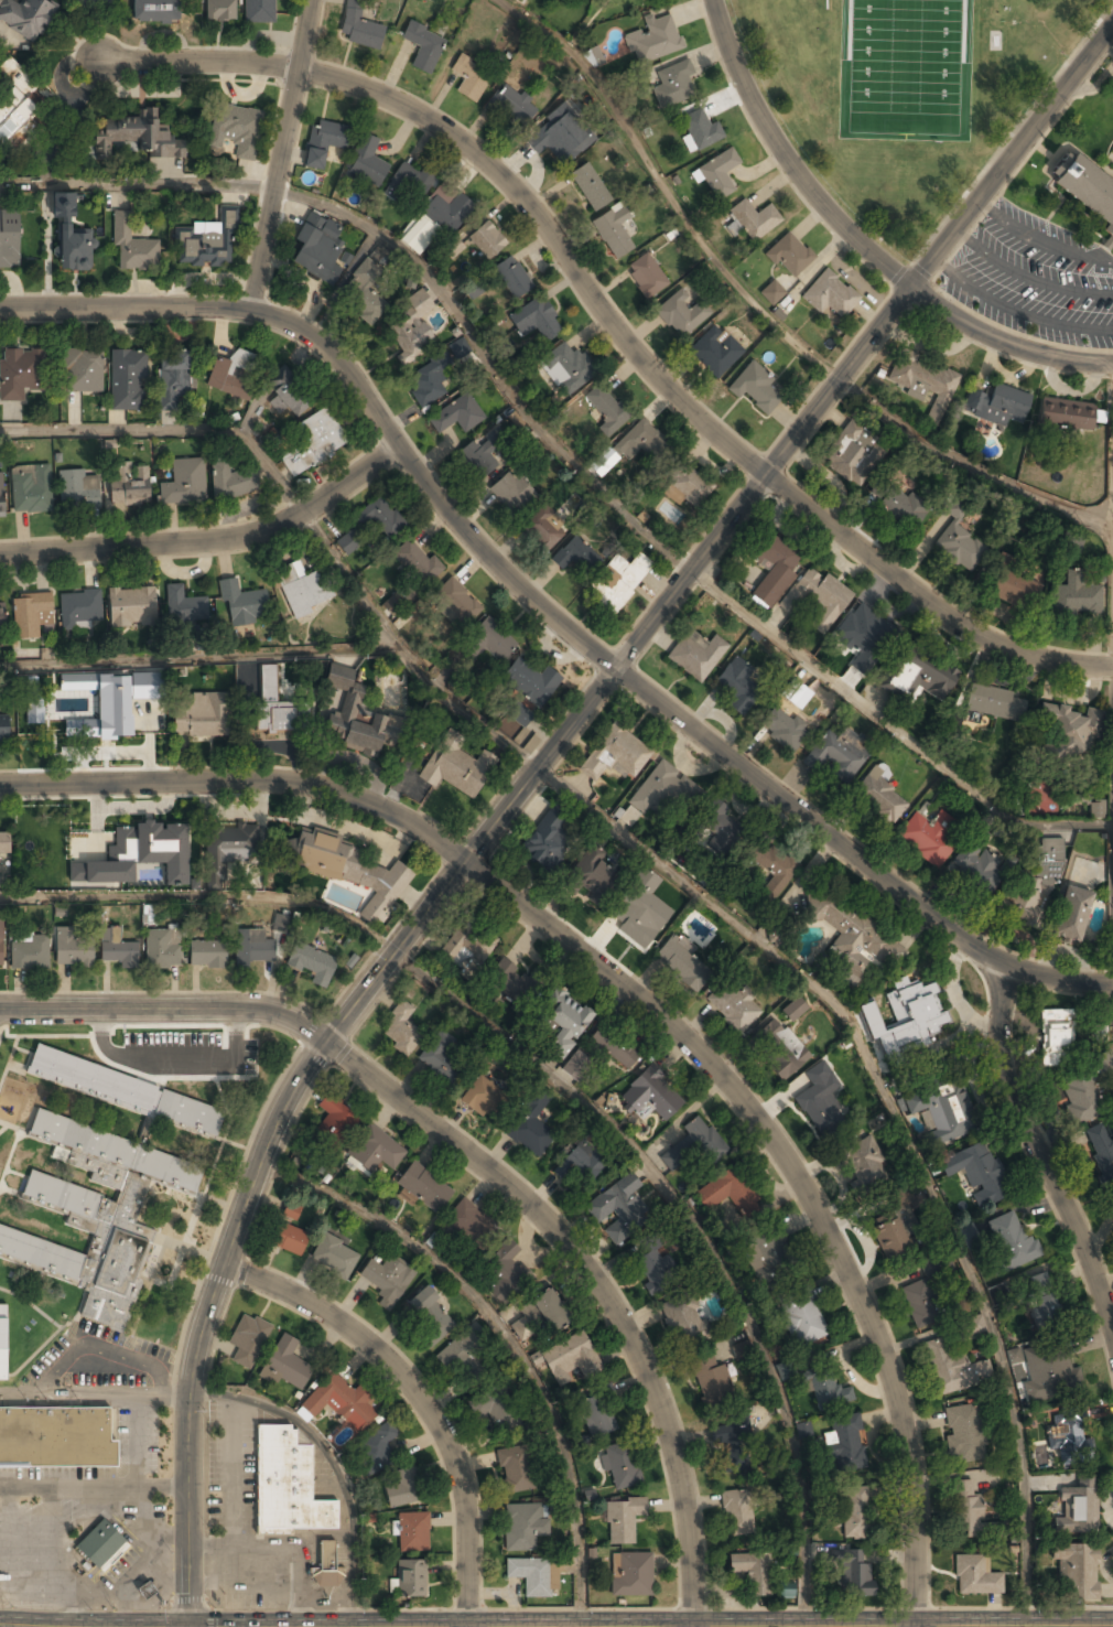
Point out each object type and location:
building: (87, 1)
building: (155, 11)
building: (219, 11)
building: (259, 11)
building: (28, 17)
building: (359, 26)
building: (653, 41)
building: (424, 45)
building: (594, 56)
park: (903, 68)
building: (471, 77)
building: (673, 85)
building: (514, 106)
building: (17, 112)
building: (236, 129)
building: (700, 130)
building: (140, 136)
building: (559, 137)
building: (324, 141)
road: (282, 154)
road: (789, 160)
building: (366, 162)
road: (491, 168)
building: (718, 173)
building: (410, 183)
road: (138, 185)
building: (590, 187)
building: (1087, 191)
building: (449, 213)
building: (754, 219)
building: (614, 233)
building: (9, 239)
building: (487, 240)
building: (453, 247)
building: (132, 248)
building: (202, 249)
building: (315, 249)
building: (75, 250)
building: (790, 255)
building: (647, 276)
building: (512, 277)
parking lot: (1036, 277)
road: (918, 280)
building: (363, 292)
building: (771, 292)
building: (830, 295)
road: (764, 312)
building: (678, 316)
building: (536, 320)
road: (281, 321)
building: (406, 334)
road: (1005, 344)
building: (712, 355)
road: (488, 367)
building: (566, 369)
building: (82, 371)
building: (233, 374)
building: (920, 377)
building: (17, 380)
building: (127, 381)
building: (173, 381)
building: (428, 385)
building: (756, 388)
building: (287, 395)
building: (997, 405)
building: (606, 411)
building: (1066, 414)
building: (447, 418)
road: (171, 429)
building: (316, 439)
building: (644, 444)
building: (849, 452)
building: (477, 460)
building: (603, 461)
building: (233, 481)
building: (128, 484)
building: (182, 484)
building: (689, 485)
building: (30, 487)
building: (75, 493)
building: (510, 493)
building: (1, 496)
building: (900, 504)
building: (381, 515)
road: (1112, 515)
building: (542, 528)
building: (350, 540)
building: (1069, 540)
road: (212, 541)
building: (959, 548)
building: (576, 557)
building: (417, 562)
building: (774, 570)
building: (1013, 580)
building: (617, 582)
building: (299, 590)
road: (928, 595)
building: (1076, 597)
building: (817, 600)
building: (456, 603)
building: (242, 605)
building: (132, 606)
building: (184, 606)
building: (80, 610)
building: (31, 616)
building: (2, 621)
building: (867, 629)
building: (488, 642)
road: (196, 655)
road: (404, 655)
building: (696, 655)
building: (920, 676)
building: (531, 682)
building: (739, 686)
building: (111, 700)
building: (992, 702)
building: (34, 704)
building: (517, 711)
building: (352, 714)
building: (201, 715)
building: (281, 719)
building: (64, 722)
building: (781, 728)
road: (890, 728)
building: (4, 729)
building: (1068, 732)
road: (723, 753)
building: (615, 754)
building: (836, 755)
building: (460, 769)
road: (244, 782)
building: (656, 790)
building: (879, 794)
building: (1098, 808)
building: (629, 816)
building: (715, 827)
building: (927, 837)
building: (545, 840)
building: (4, 843)
building: (231, 844)
building: (51, 845)
building: (139, 854)
building: (977, 868)
building: (772, 869)
building: (353, 871)
building: (591, 879)
building: (1035, 881)
road: (205, 895)
building: (1072, 915)
building: (636, 919)
building: (280, 923)
building: (852, 938)
building: (1, 945)
building: (253, 948)
building: (468, 948)
building: (117, 949)
building: (161, 949)
building: (74, 952)
building: (29, 953)
building: (207, 955)
building: (684, 962)
building: (312, 965)
road: (1053, 978)
building: (512, 983)
building: (733, 1005)
building: (795, 1008)
road: (168, 1009)
road: (1098, 1015)
building: (564, 1020)
building: (905, 1020)
road: (336, 1030)
building: (401, 1030)
building: (1056, 1034)
building: (615, 1047)
building: (441, 1058)
building: (789, 1062)
building: (575, 1065)
building: (798, 1085)
building: (126, 1092)
building: (483, 1097)
building: (649, 1097)
building: (1081, 1098)
building: (942, 1108)
building: (818, 1111)
building: (336, 1119)
road: (903, 1129)
building: (530, 1132)
building: (703, 1141)
road: (1036, 1145)
building: (375, 1149)
building: (1102, 1154)
building: (865, 1164)
building: (579, 1166)
building: (975, 1173)
road: (812, 1178)
building: (424, 1188)
building: (727, 1193)
building: (613, 1198)
building: (295, 1213)
building: (98, 1214)
building: (469, 1221)
road: (696, 1235)
building: (889, 1236)
building: (289, 1239)
building: (1011, 1241)
building: (759, 1257)
building: (335, 1258)
building: (652, 1271)
building: (505, 1272)
building: (388, 1280)
road: (598, 1282)
building: (1040, 1296)
building: (920, 1305)
building: (545, 1315)
building: (430, 1318)
building: (803, 1321)
building: (683, 1322)
building: (971, 1326)
road: (505, 1337)
building: (248, 1340)
building: (2, 1342)
building: (463, 1357)
building: (571, 1360)
building: (285, 1366)
building: (952, 1369)
building: (1060, 1372)
building: (710, 1379)
building: (824, 1387)
road: (96, 1396)
road: (420, 1398)
building: (341, 1403)
building: (497, 1412)
building: (597, 1414)
building: (963, 1433)
building: (55, 1439)
building: (1070, 1441)
building: (845, 1443)
building: (732, 1446)
building: (377, 1450)
road: (334, 1464)
building: (620, 1467)
building: (514, 1469)
road: (95, 1486)
building: (287, 1486)
building: (403, 1489)
building: (965, 1508)
building: (1077, 1509)
building: (855, 1512)
building: (737, 1513)
building: (623, 1520)
building: (523, 1527)
building: (413, 1533)
building: (100, 1544)
road: (48, 1563)
building: (324, 1566)
building: (1077, 1571)
building: (753, 1572)
building: (630, 1574)
building: (855, 1574)
building: (974, 1576)
building: (411, 1578)
building: (533, 1578)
road: (24, 1583)
building: (145, 1591)
road: (790, 1626)

